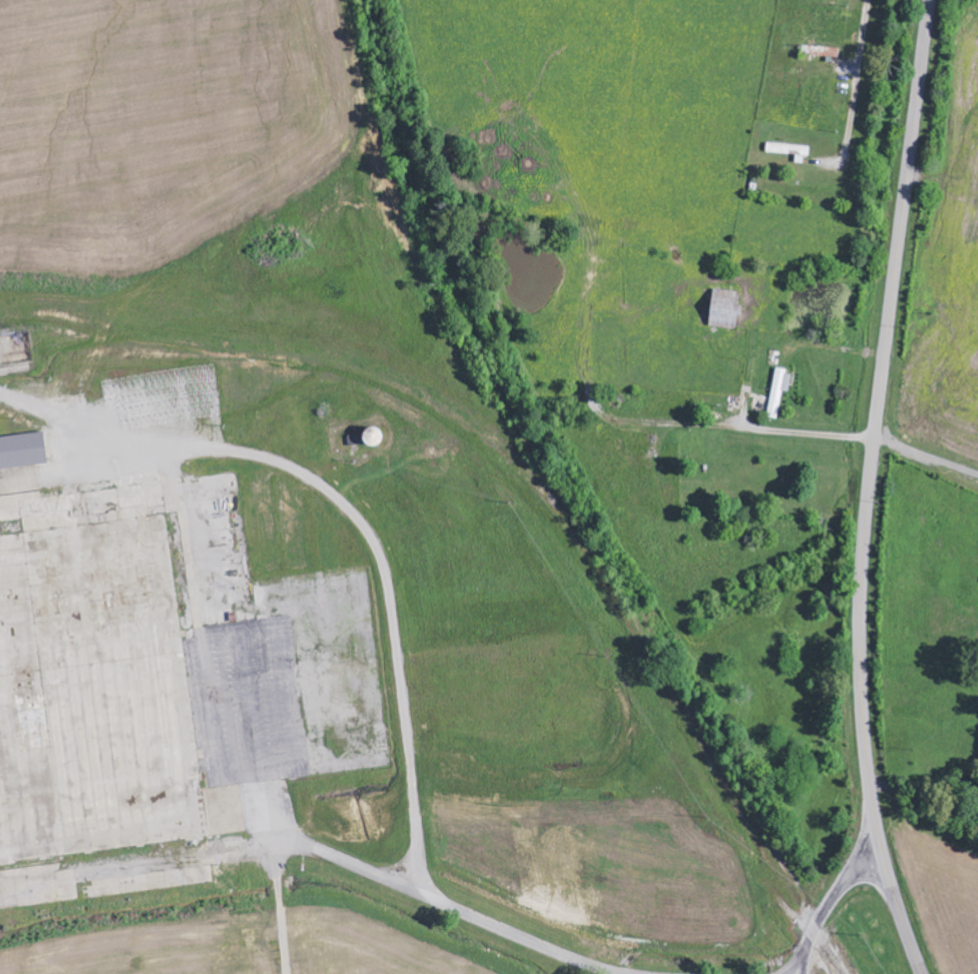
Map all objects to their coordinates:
road: (854, 73)
building: (724, 316)
building: (779, 390)
building: (23, 451)
road: (926, 457)
road: (870, 489)
road: (411, 888)
road: (835, 897)

